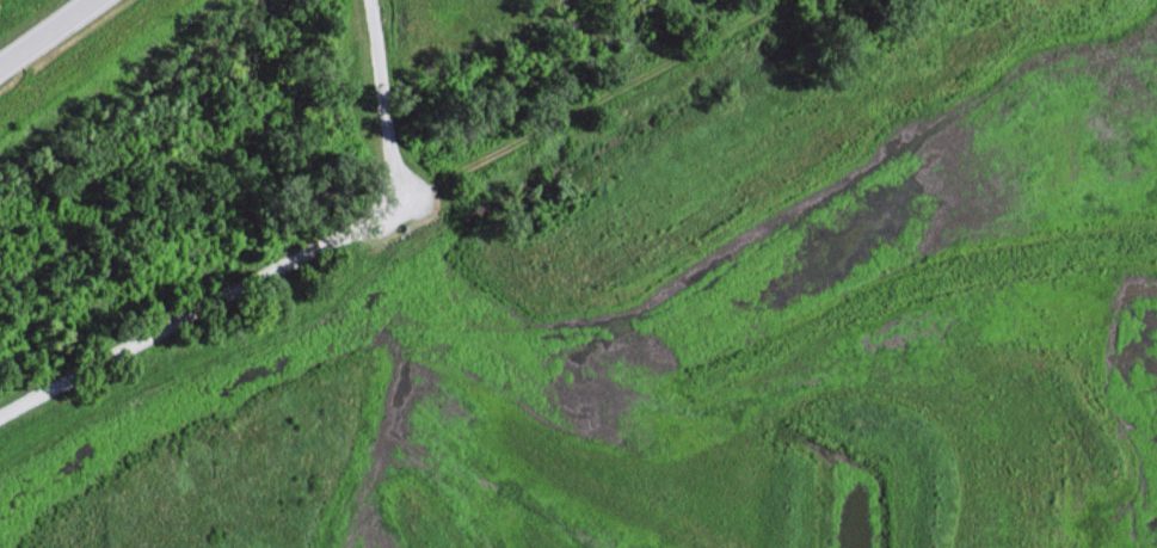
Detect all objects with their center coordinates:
road: (75, 54)
road: (382, 104)
road: (389, 209)

